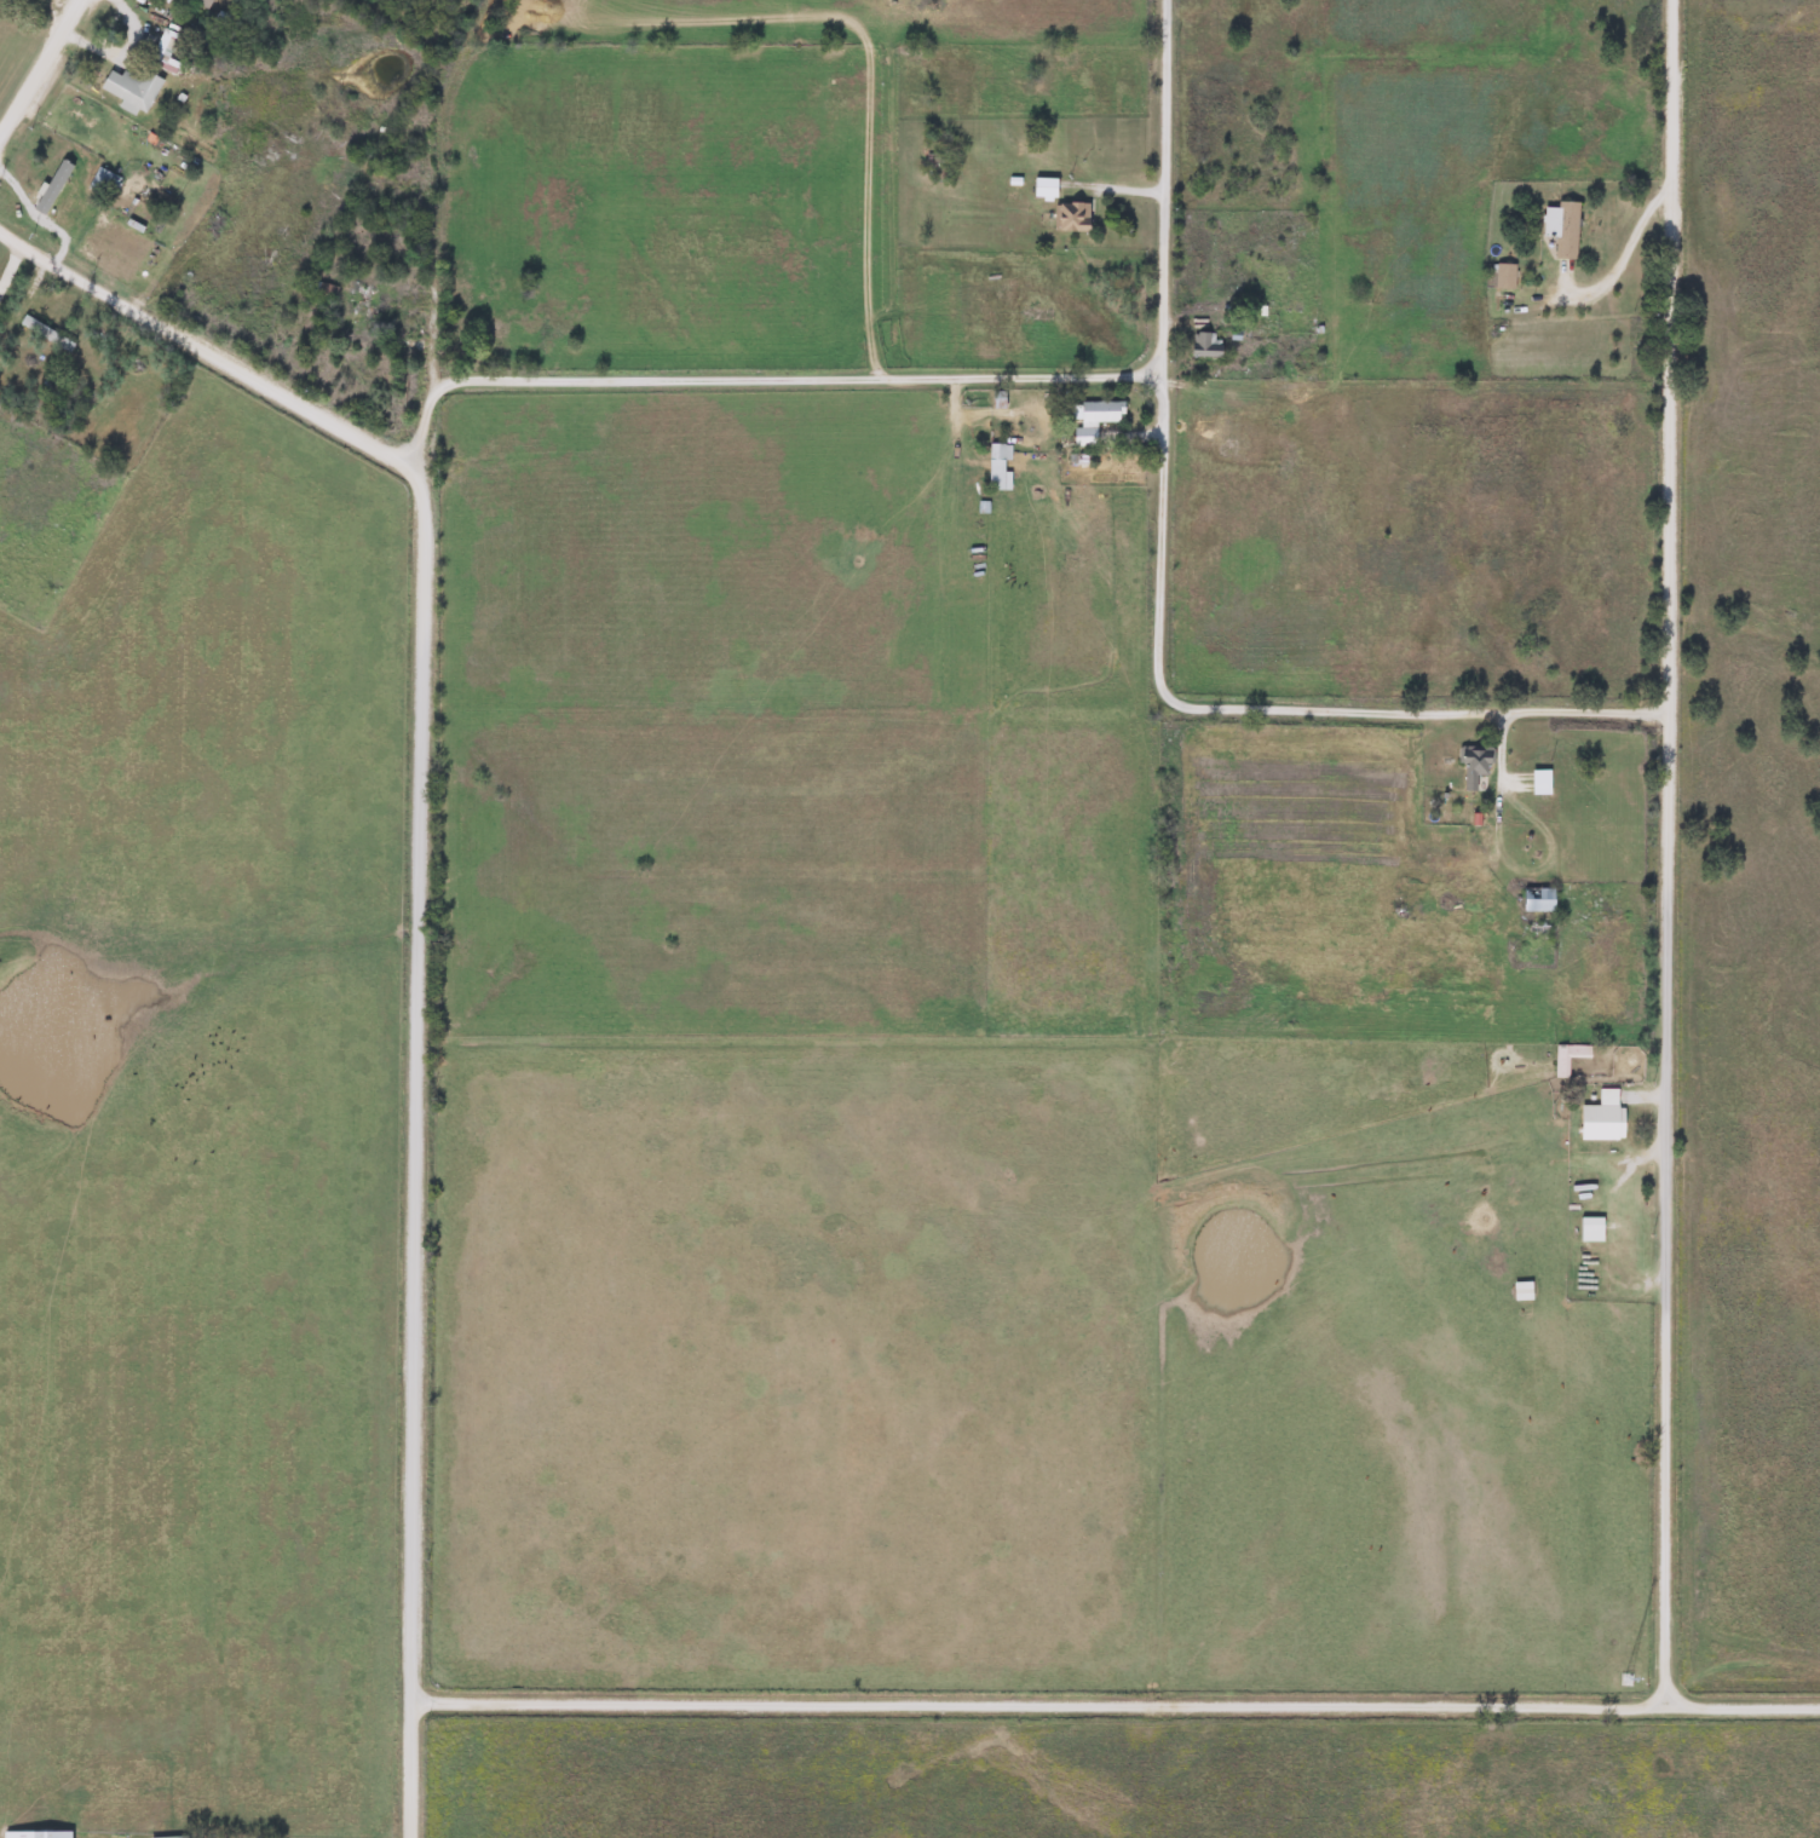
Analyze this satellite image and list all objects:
building: (202, 2)
building: (163, 46)
road: (36, 61)
building: (132, 87)
building: (103, 183)
building: (1043, 189)
building: (52, 197)
building: (1070, 217)
building: (1561, 229)
building: (1503, 276)
building: (319, 289)
road: (1157, 289)
building: (362, 305)
building: (46, 334)
building: (1205, 345)
road: (208, 351)
road: (794, 379)
building: (1092, 420)
building: (997, 466)
road: (1363, 710)
building: (1473, 765)
building: (1539, 782)
road: (1672, 851)
building: (1537, 899)
building: (1566, 1055)
road: (416, 1112)
building: (1601, 1117)
building: (1589, 1229)
building: (1521, 1291)
road: (1116, 1702)
building: (36, 1834)

